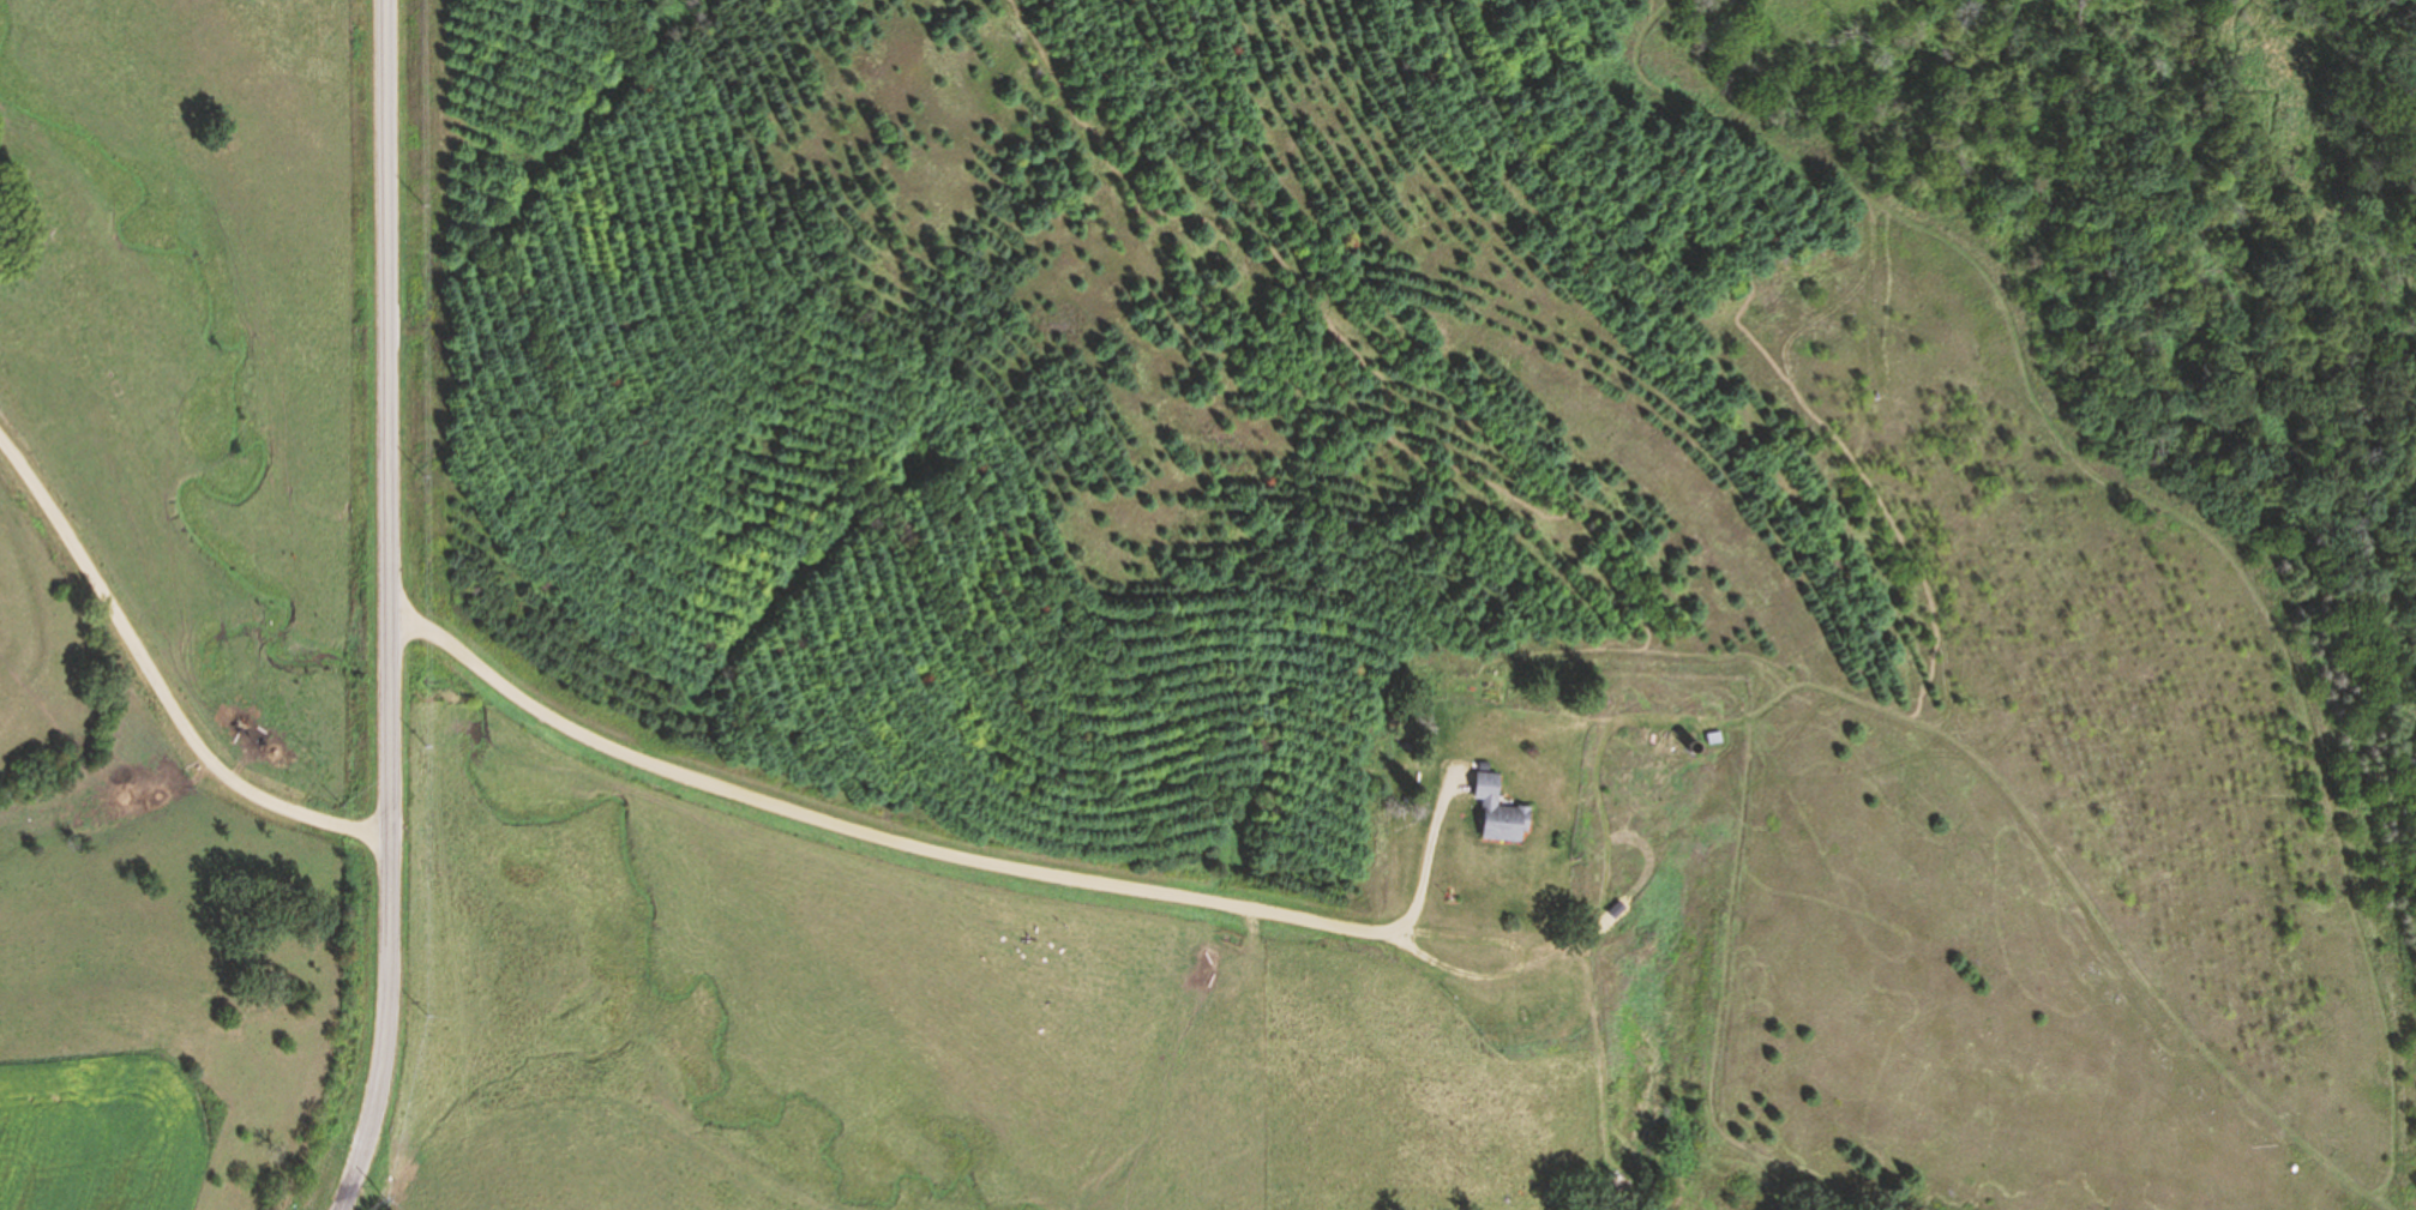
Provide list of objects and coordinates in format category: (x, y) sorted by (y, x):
road: (398, 608)
road: (157, 682)
building: (1498, 811)
road: (919, 844)

